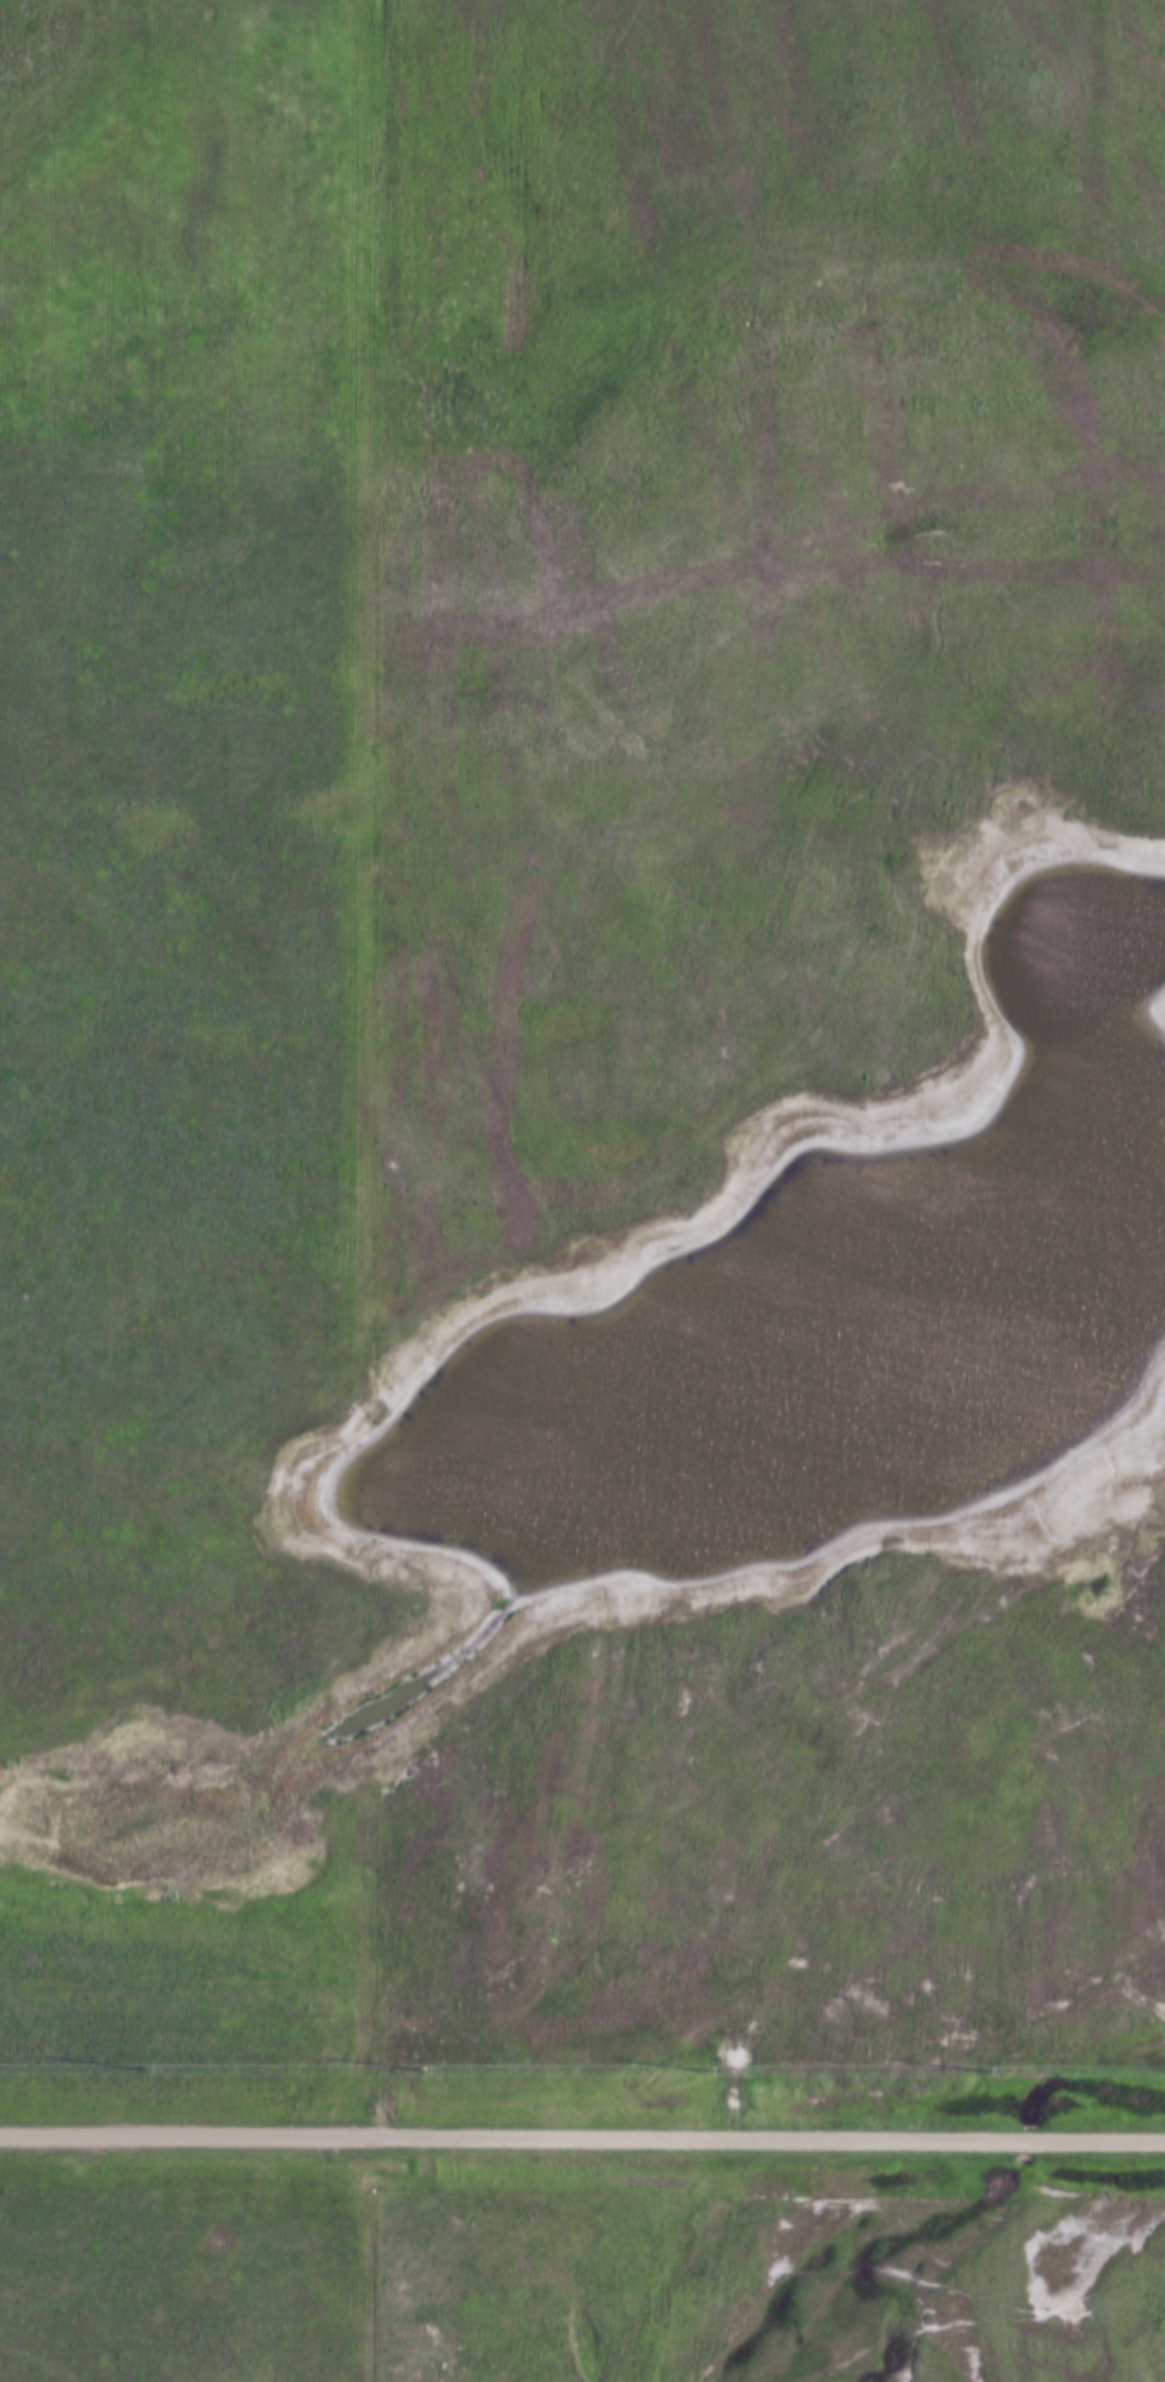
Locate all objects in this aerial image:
road: (582, 2139)

